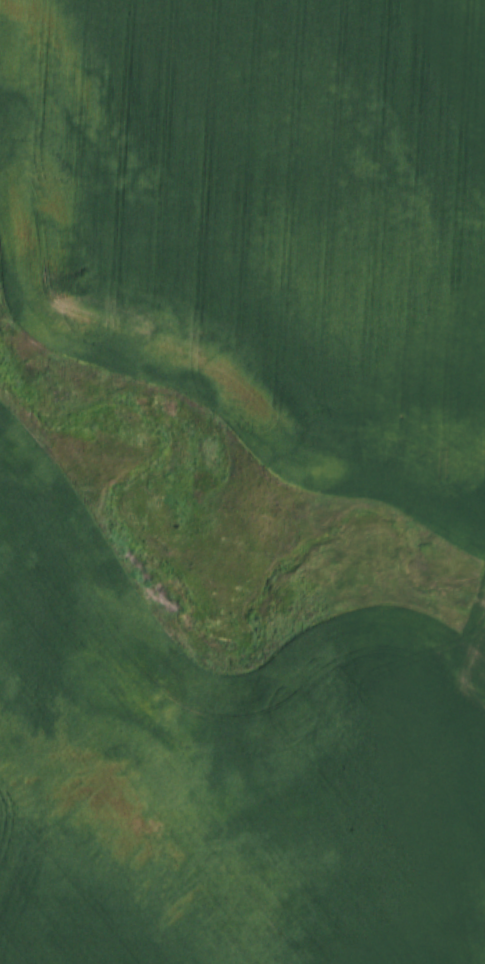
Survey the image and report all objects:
crop: (268, 224)

